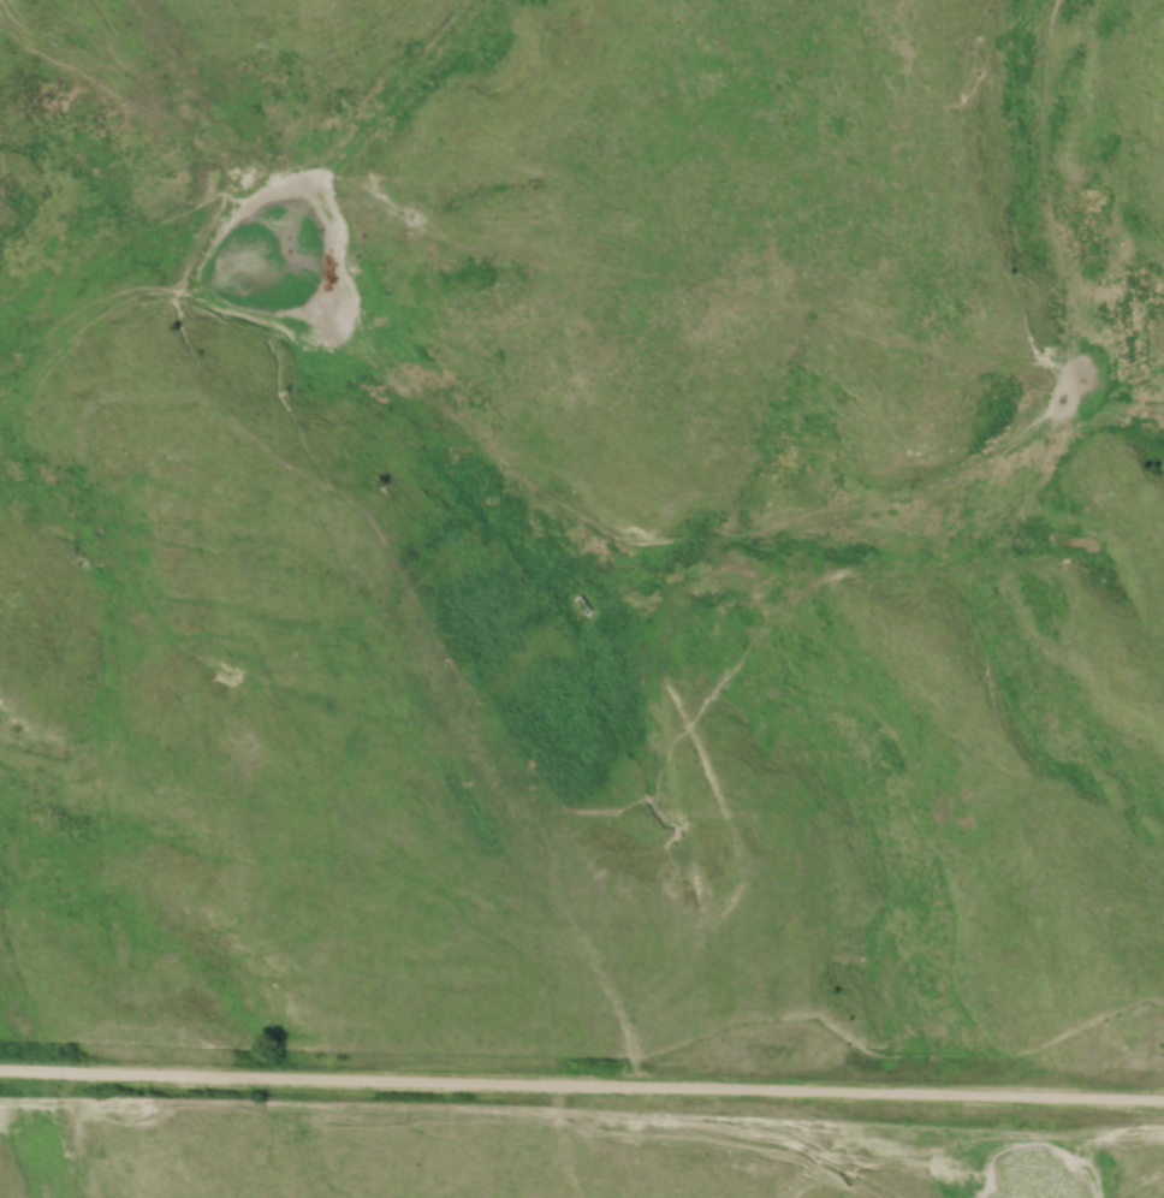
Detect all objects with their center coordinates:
road: (581, 1089)

